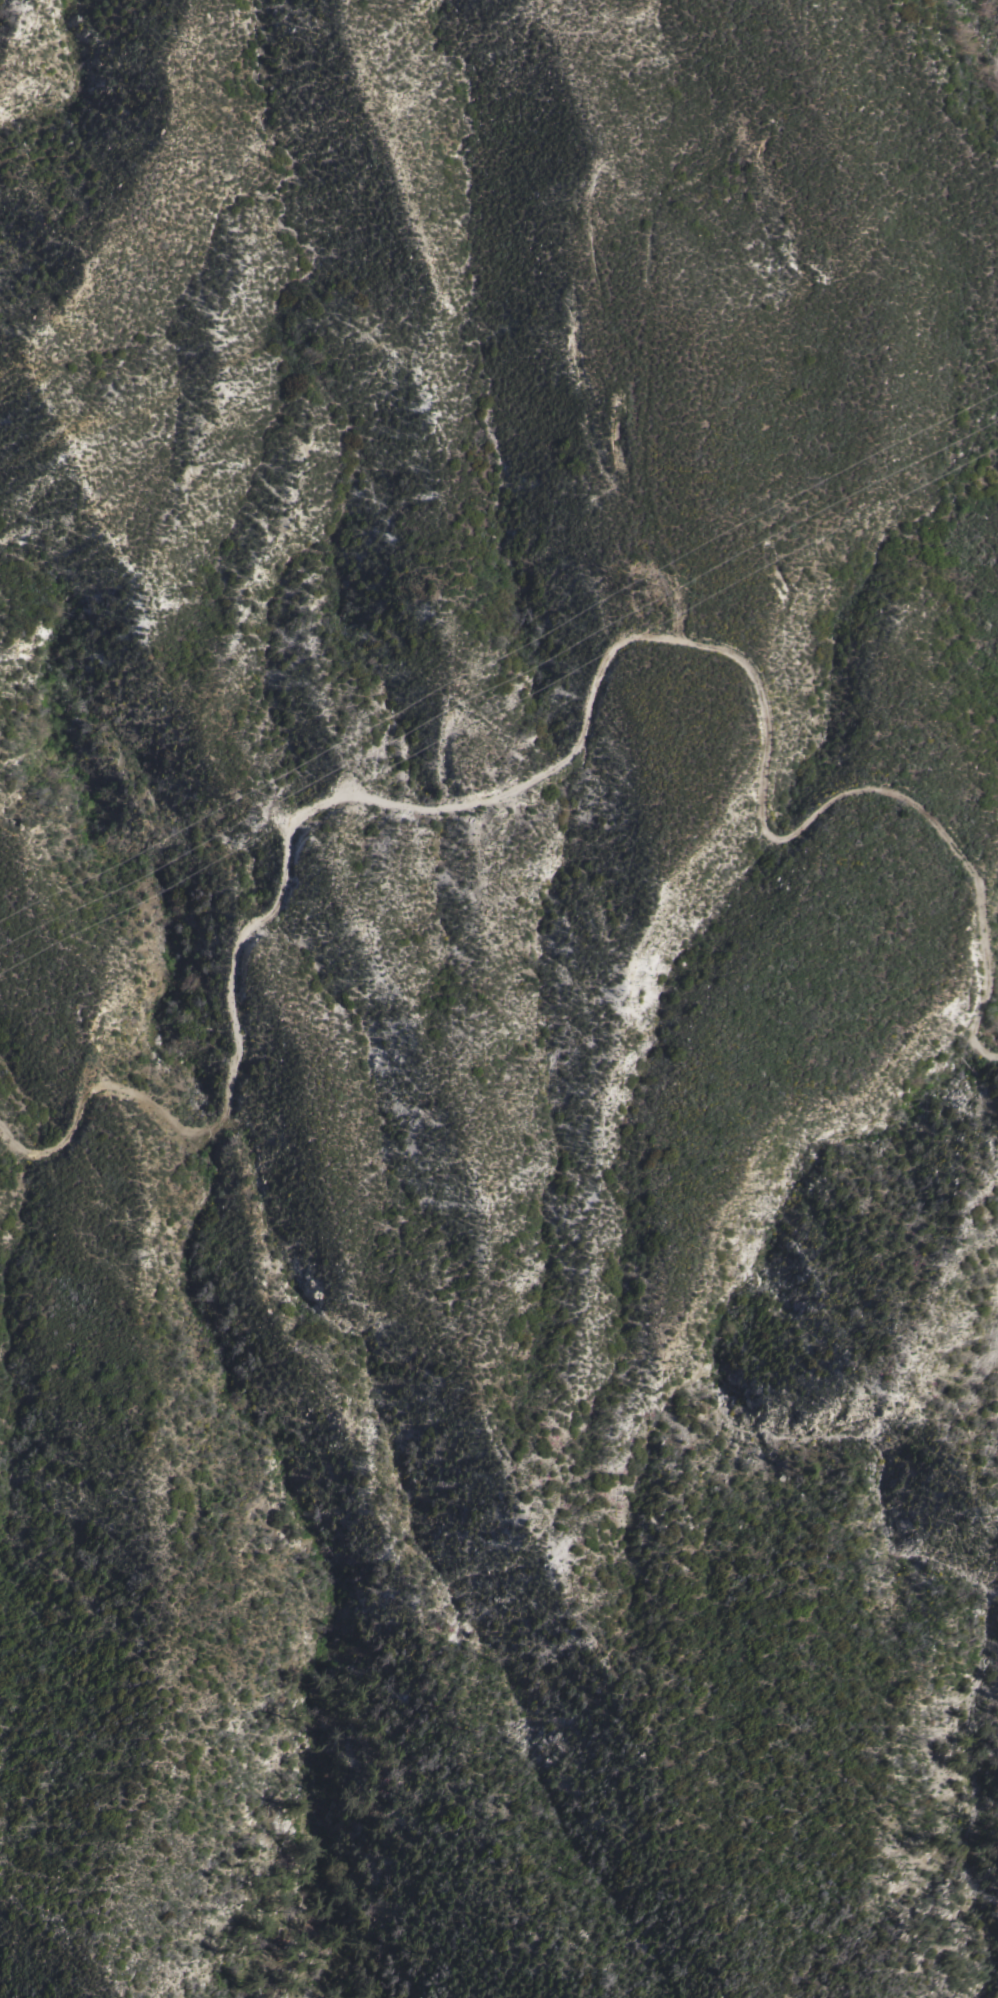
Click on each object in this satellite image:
power tower: (652, 594)
road: (564, 759)
power tower: (259, 800)

